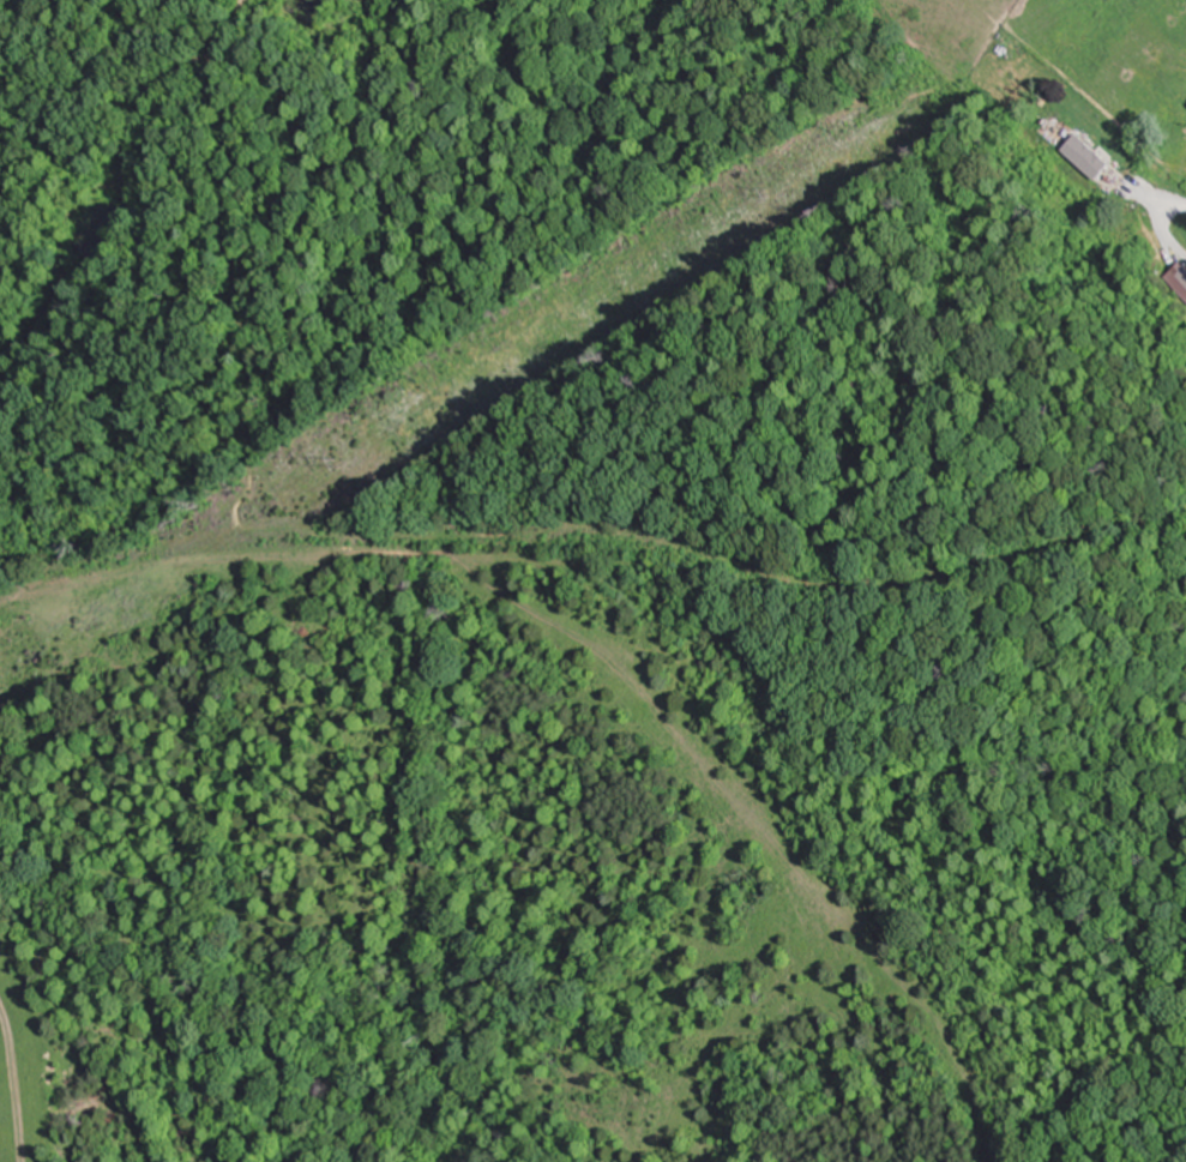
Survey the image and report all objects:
building: (1076, 145)
road: (967, 360)

